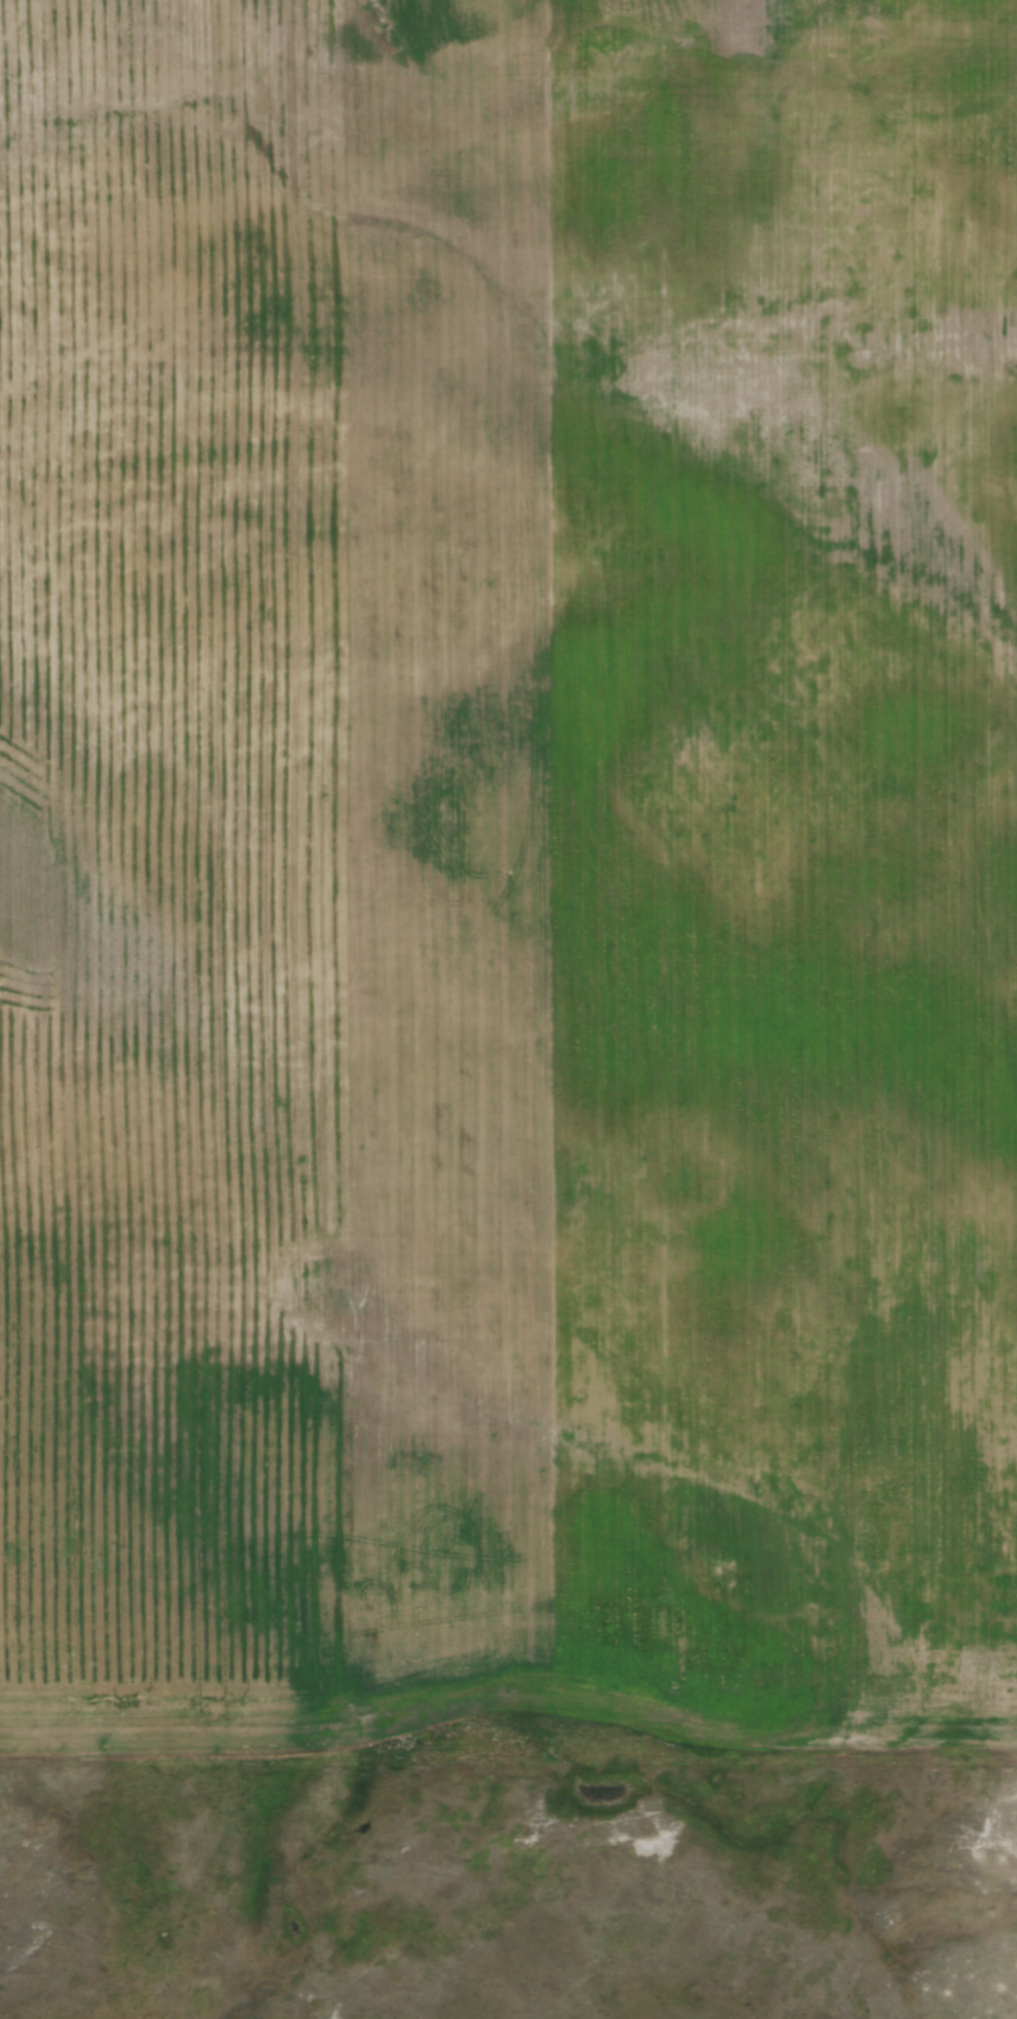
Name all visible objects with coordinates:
road: (508, 1763)

